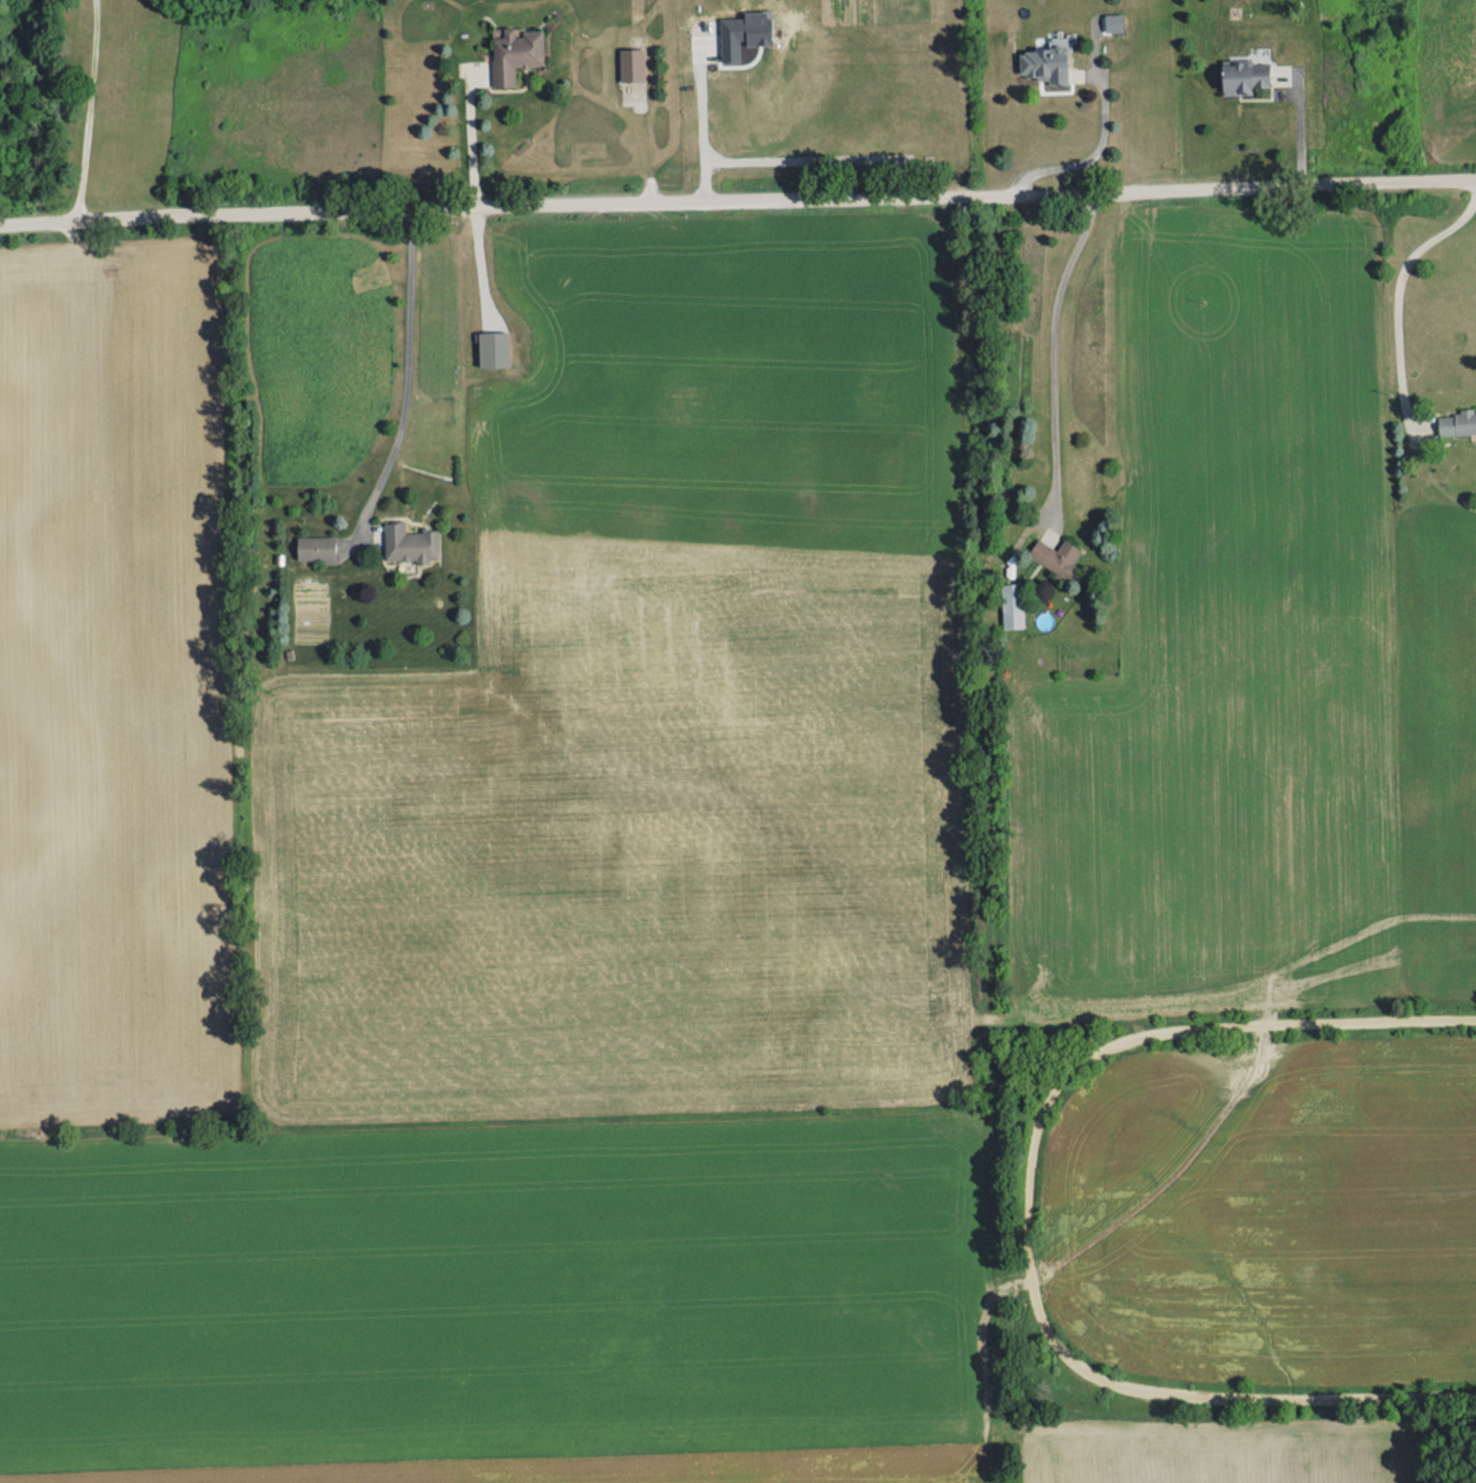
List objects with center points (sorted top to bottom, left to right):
building: (1112, 23)
building: (744, 25)
building: (516, 44)
building: (632, 55)
building: (1046, 55)
building: (1243, 68)
road: (90, 106)
road: (697, 110)
road: (1299, 125)
road: (473, 148)
road: (1082, 158)
road: (803, 161)
road: (737, 194)
road: (480, 257)
road: (1399, 279)
building: (494, 340)
road: (1053, 344)
road: (409, 364)
building: (1458, 414)
building: (412, 534)
building: (317, 540)
building: (1058, 550)
building: (1012, 596)

